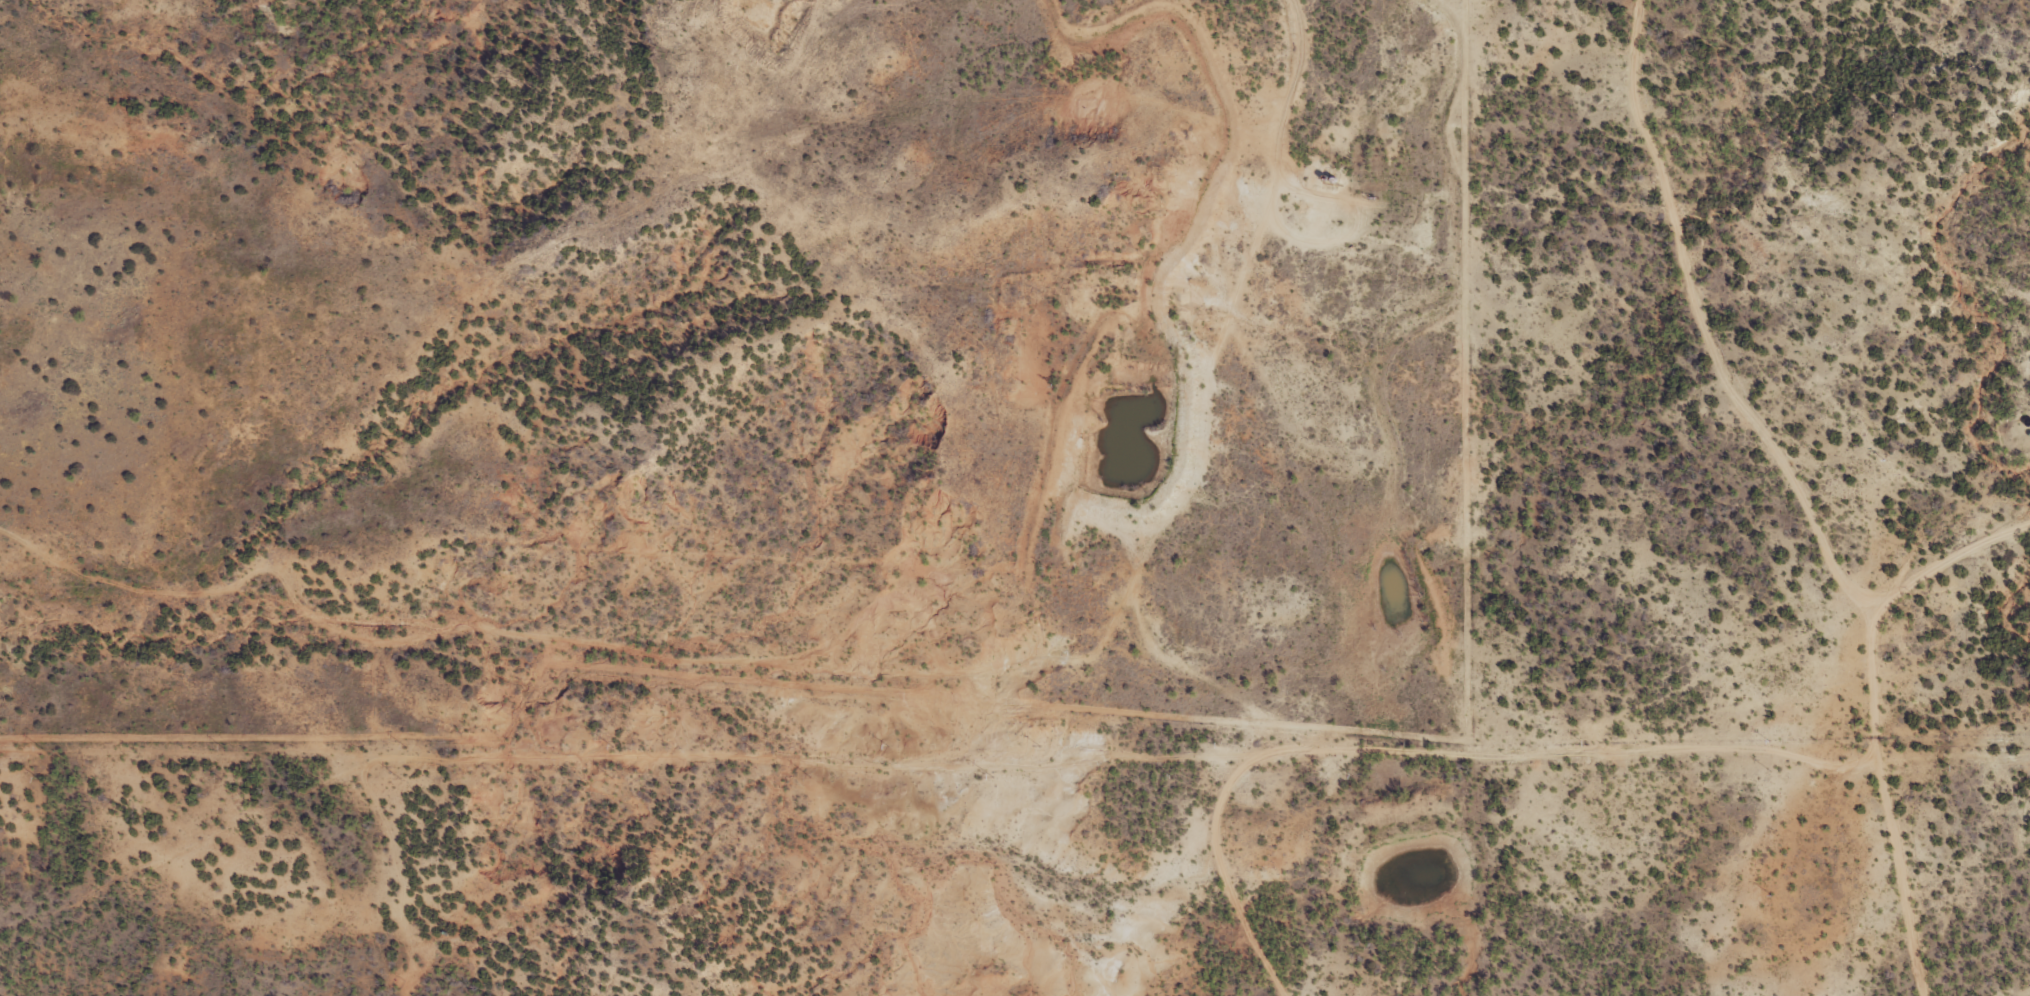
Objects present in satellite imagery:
road: (1666, 320)
road: (1141, 719)
road: (1671, 789)
road: (1890, 880)

